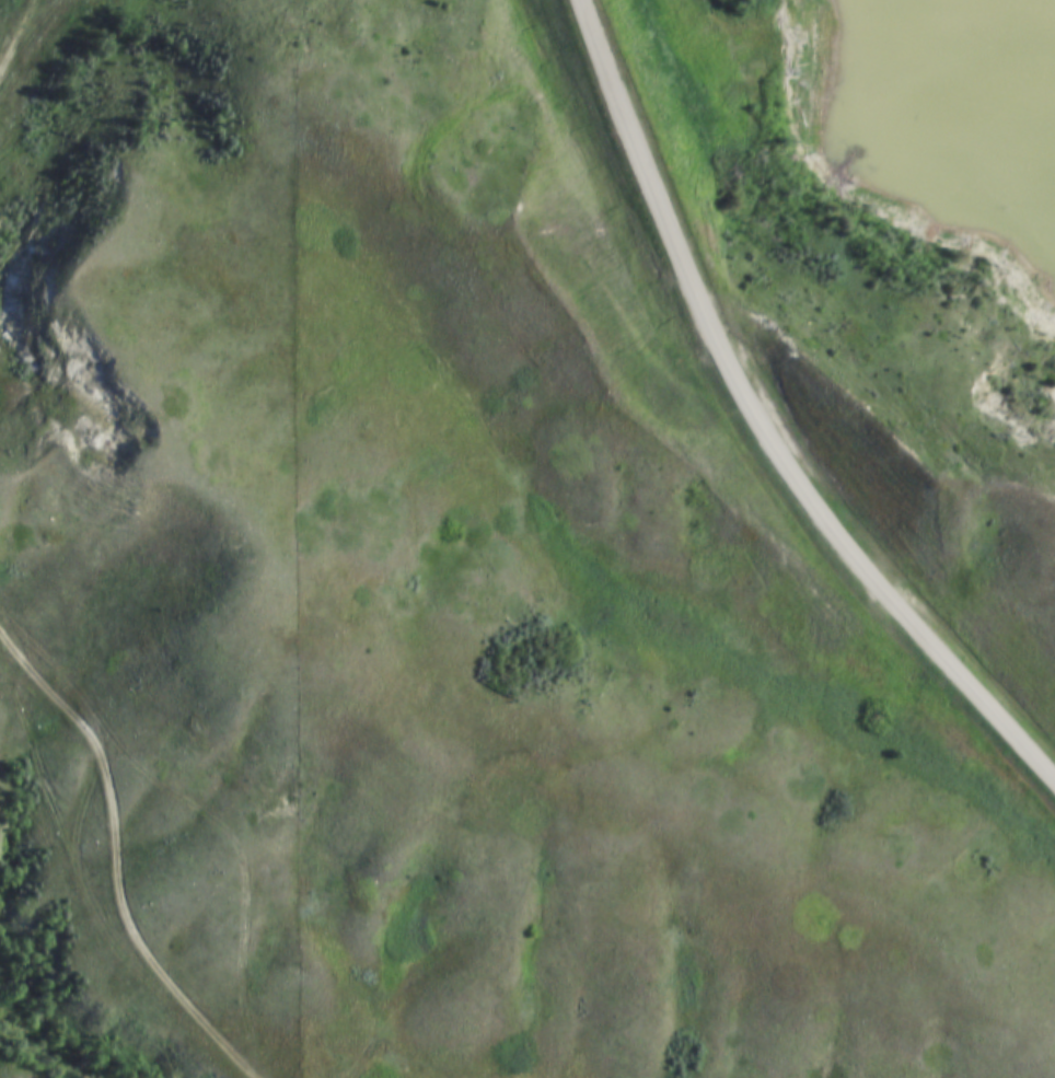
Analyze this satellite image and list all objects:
road: (15, 37)
building: (689, 294)
road: (760, 422)
road: (200, 813)

